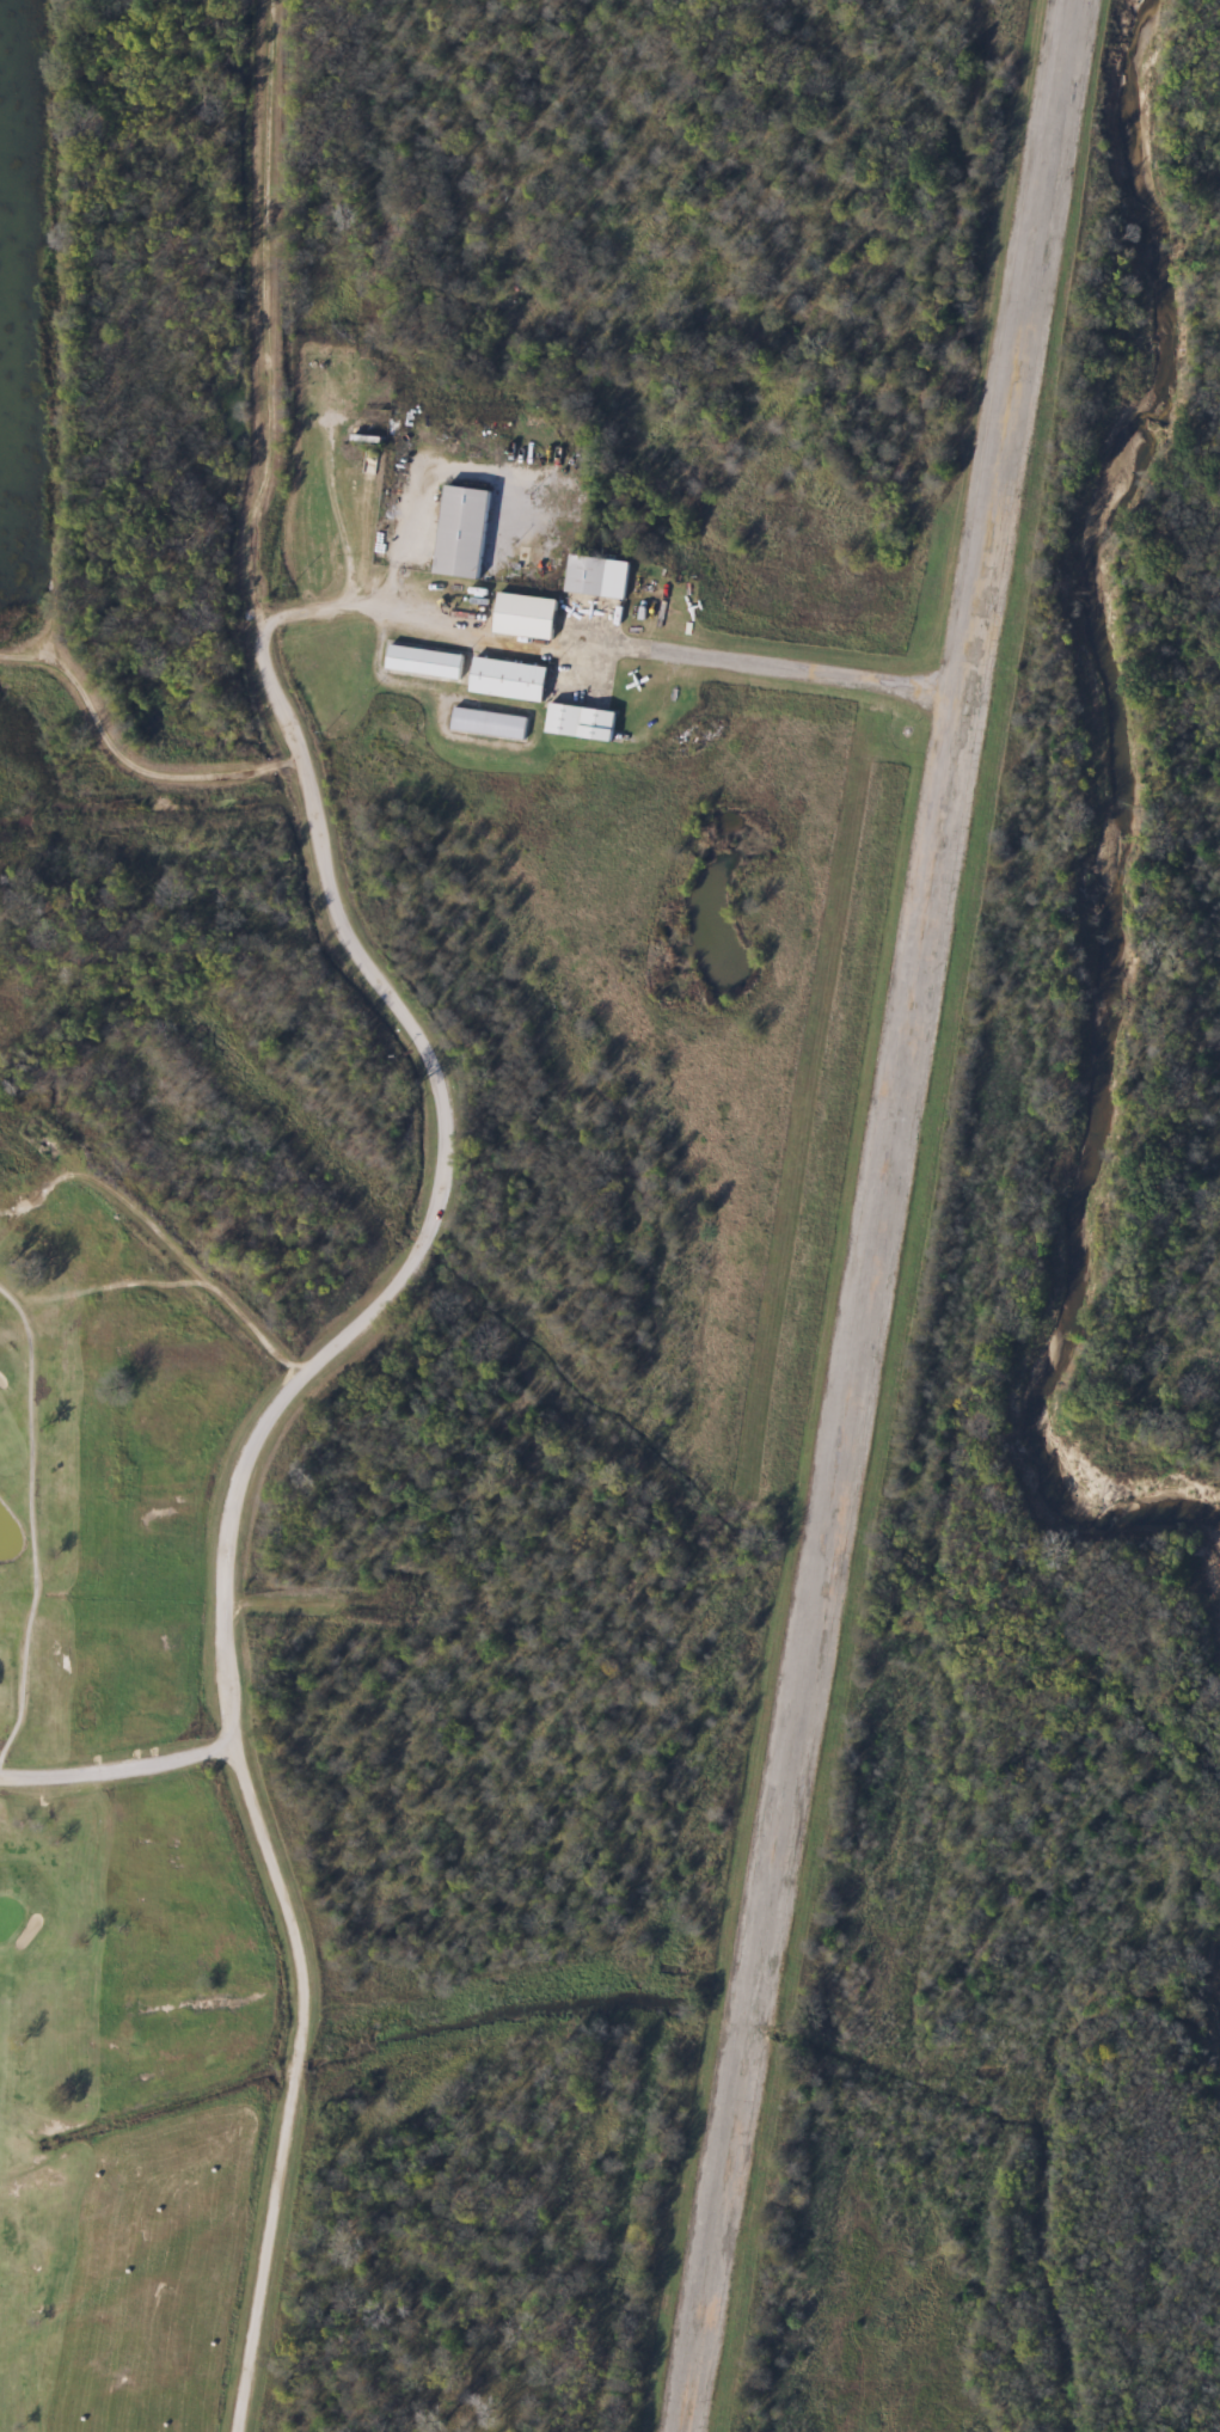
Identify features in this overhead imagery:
building: (459, 533)
building: (594, 578)
road: (356, 611)
building: (422, 663)
airport taxiway: (792, 667)
building: (505, 680)
building: (578, 722)
building: (486, 724)
road: (124, 756)
airport runway: (876, 1215)
road: (429, 1236)
road: (320, 1600)
road: (118, 1772)

